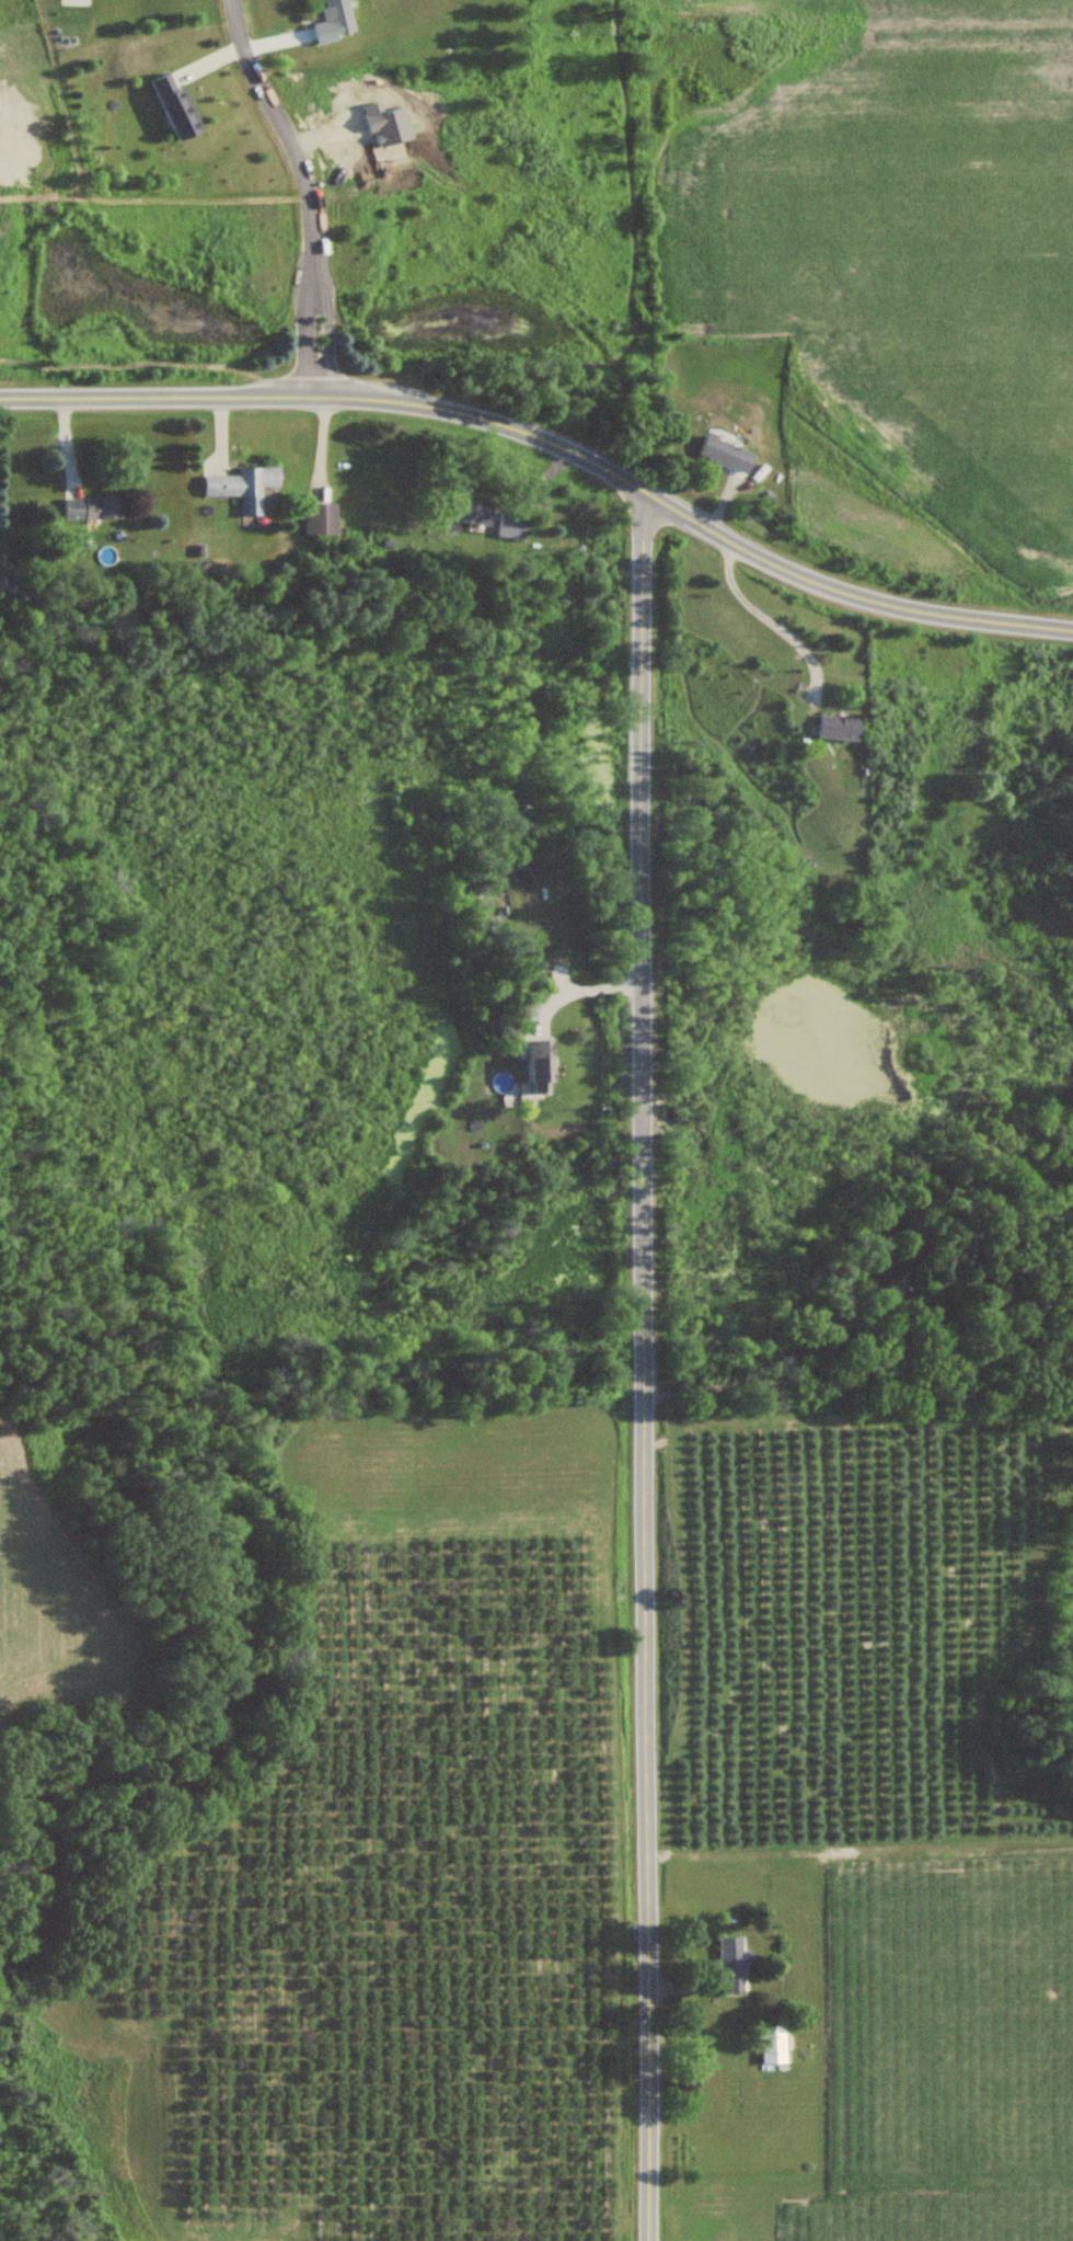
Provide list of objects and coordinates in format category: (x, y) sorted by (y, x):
building: (334, 22)
building: (173, 106)
road: (305, 191)
road: (552, 446)
building: (726, 456)
building: (240, 488)
building: (89, 510)
building: (469, 513)
building: (316, 519)
building: (507, 527)
road: (763, 616)
road: (639, 632)
building: (837, 729)
road: (581, 987)
building: (539, 1068)
building: (902, 1289)
road: (853, 1383)
road: (644, 1507)
building: (730, 1965)
building: (772, 2045)

